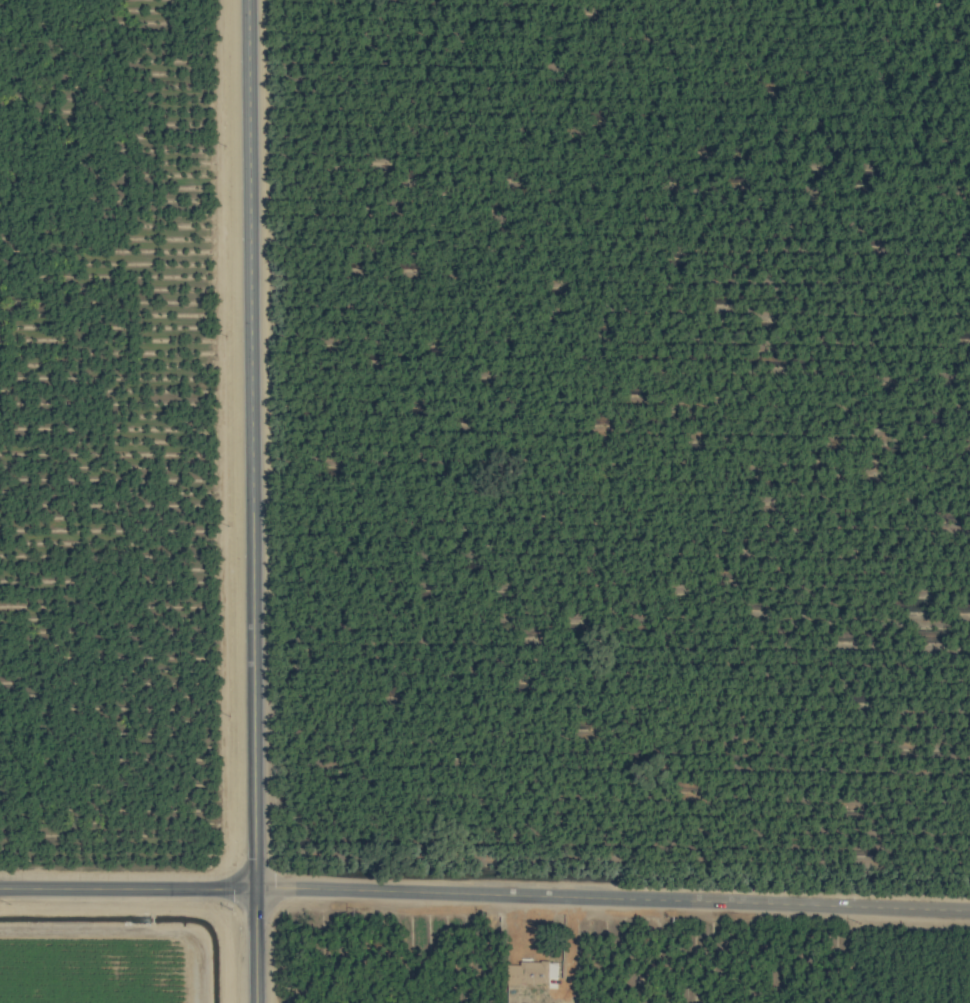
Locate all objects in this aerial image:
road: (256, 501)
crop: (485, 501)
road: (485, 891)
building: (528, 972)

